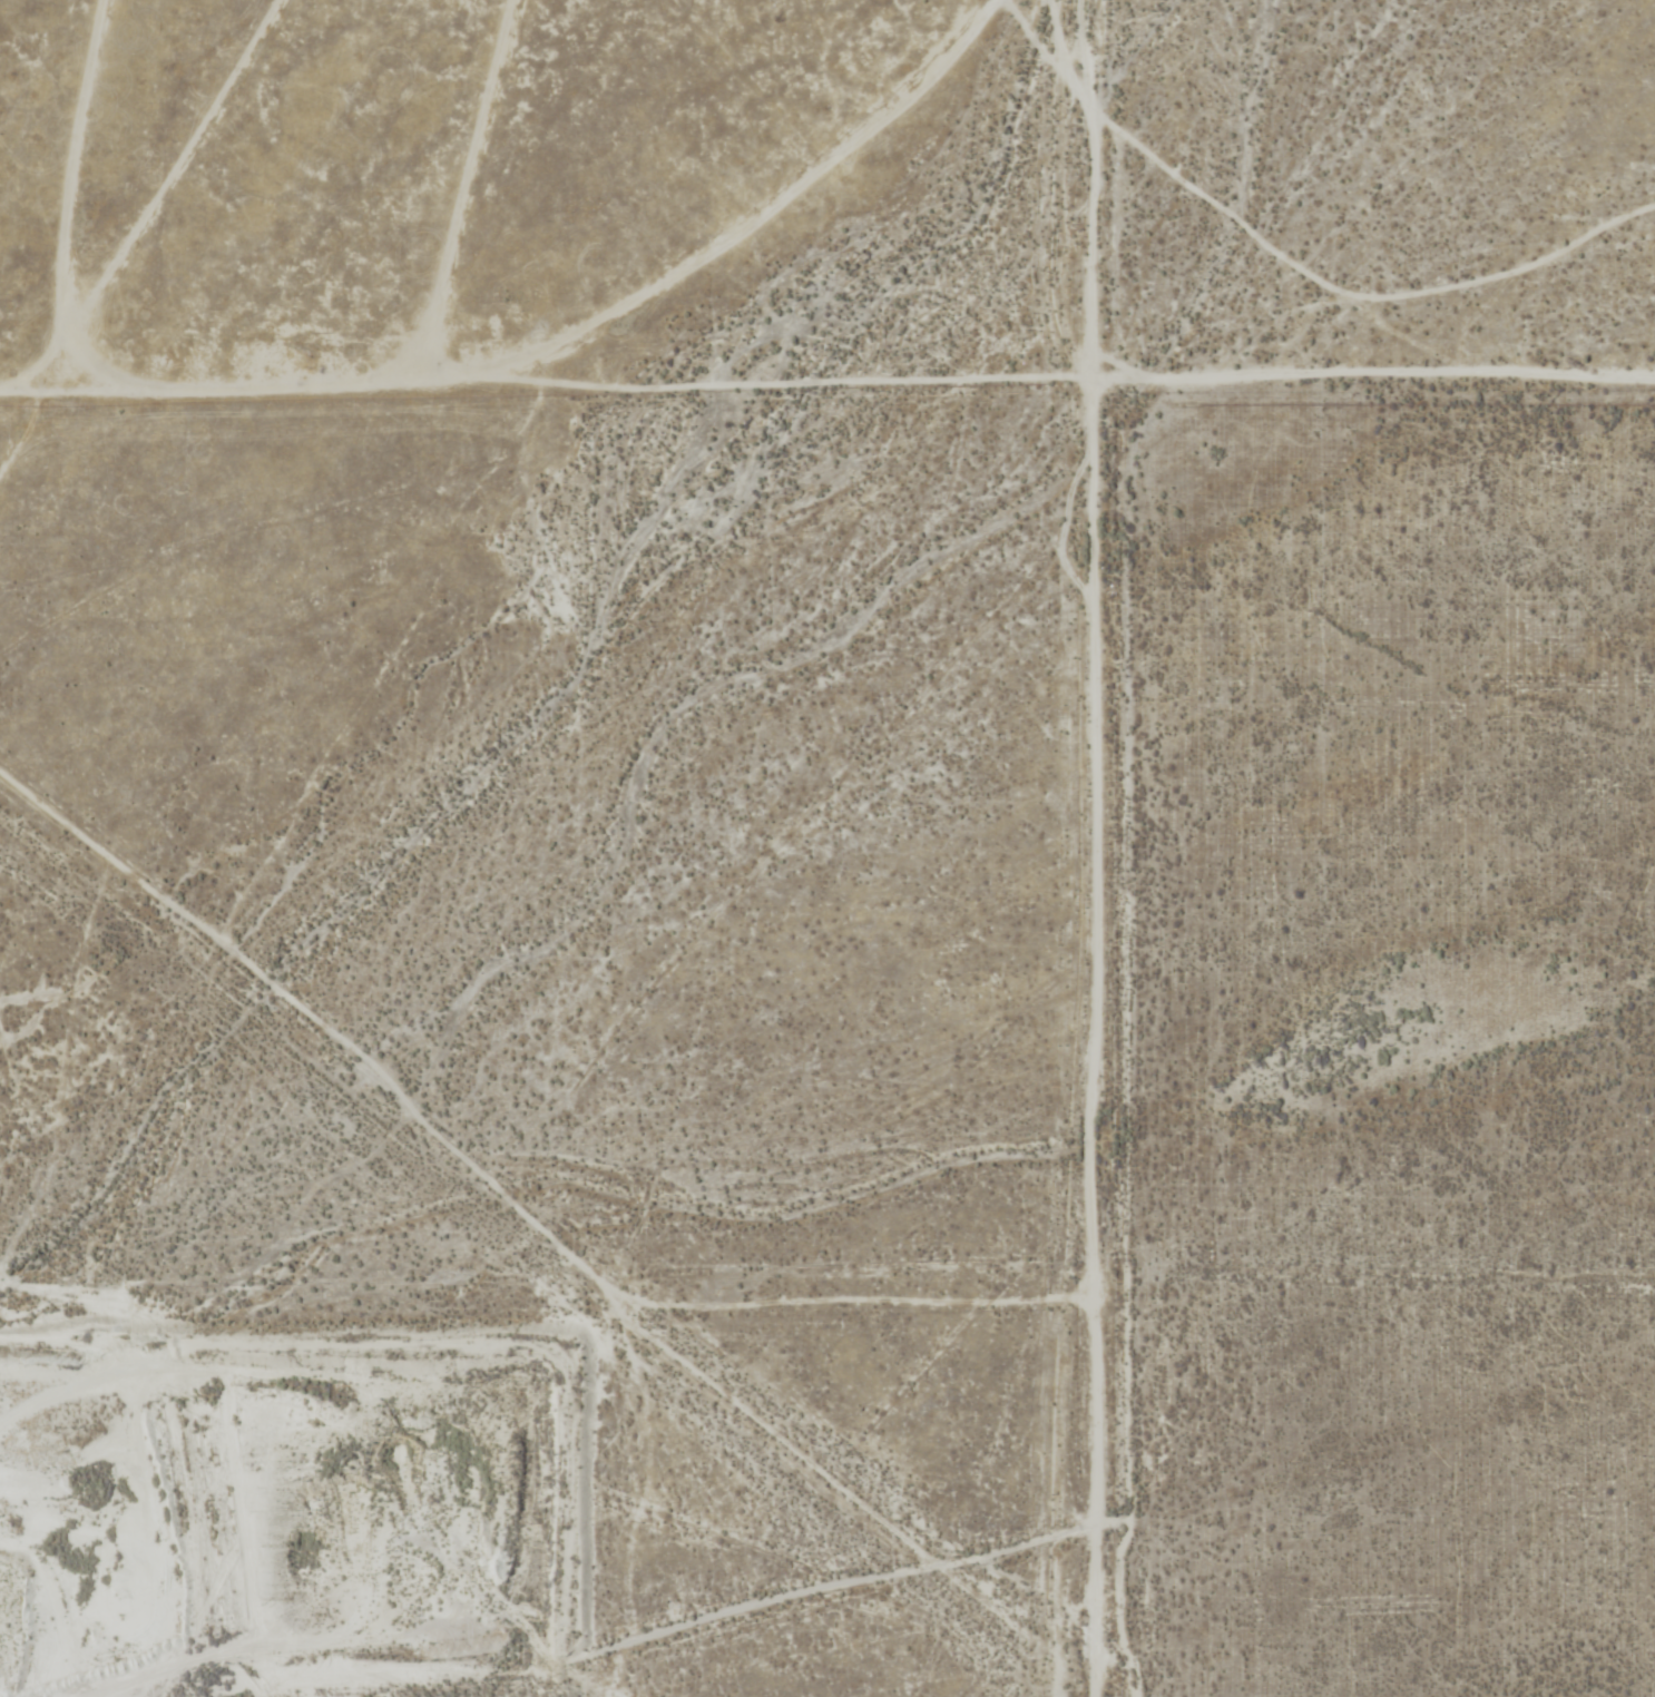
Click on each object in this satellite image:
road: (1126, 1571)

